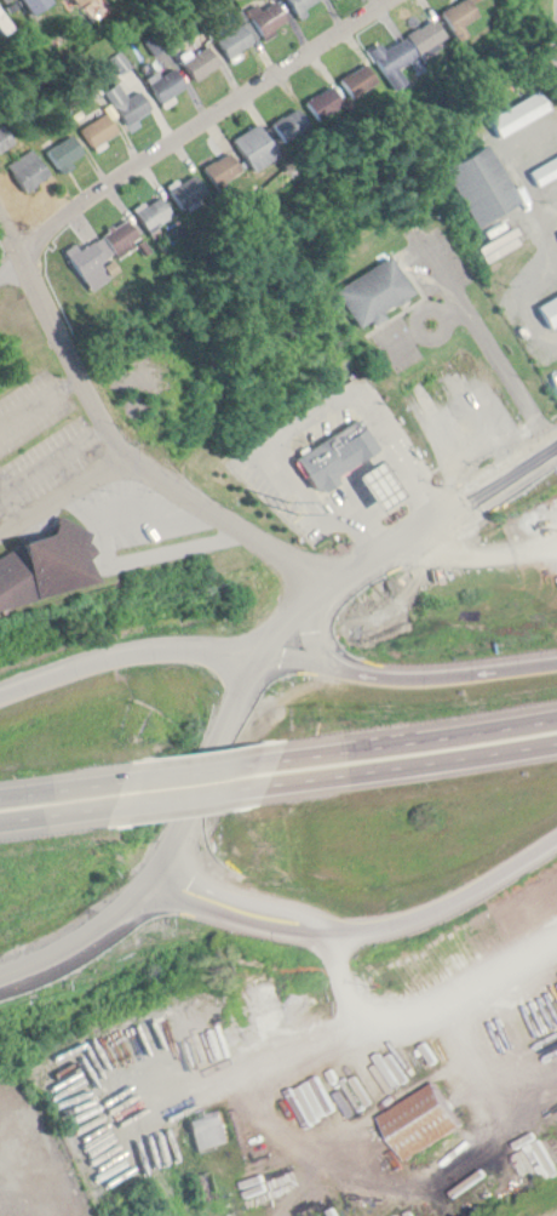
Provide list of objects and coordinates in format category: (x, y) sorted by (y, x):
building: (71, 0)
building: (33, 4)
building: (298, 4)
building: (453, 15)
building: (4, 22)
building: (251, 28)
road: (552, 41)
building: (401, 50)
building: (199, 62)
road: (476, 64)
building: (352, 79)
building: (165, 82)
building: (126, 101)
building: (517, 113)
road: (200, 120)
building: (98, 127)
building: (1, 138)
building: (63, 149)
building: (27, 167)
building: (544, 169)
building: (480, 183)
building: (183, 189)
building: (150, 212)
road: (12, 232)
building: (119, 236)
road: (12, 262)
building: (85, 262)
building: (373, 290)
building: (547, 309)
road: (487, 337)
road: (70, 355)
building: (337, 450)
building: (377, 481)
gas station: (377, 481)
road: (63, 491)
road: (222, 515)
road: (402, 536)
building: (40, 559)
road: (315, 622)
road: (162, 645)
road: (443, 669)
road: (412, 737)
road: (402, 763)
road: (200, 766)
road: (67, 783)
road: (186, 794)
road: (63, 810)
road: (179, 852)
road: (454, 903)
road: (247, 910)
road: (344, 980)
building: (421, 1112)
building: (209, 1127)
railway: (552, 1214)

